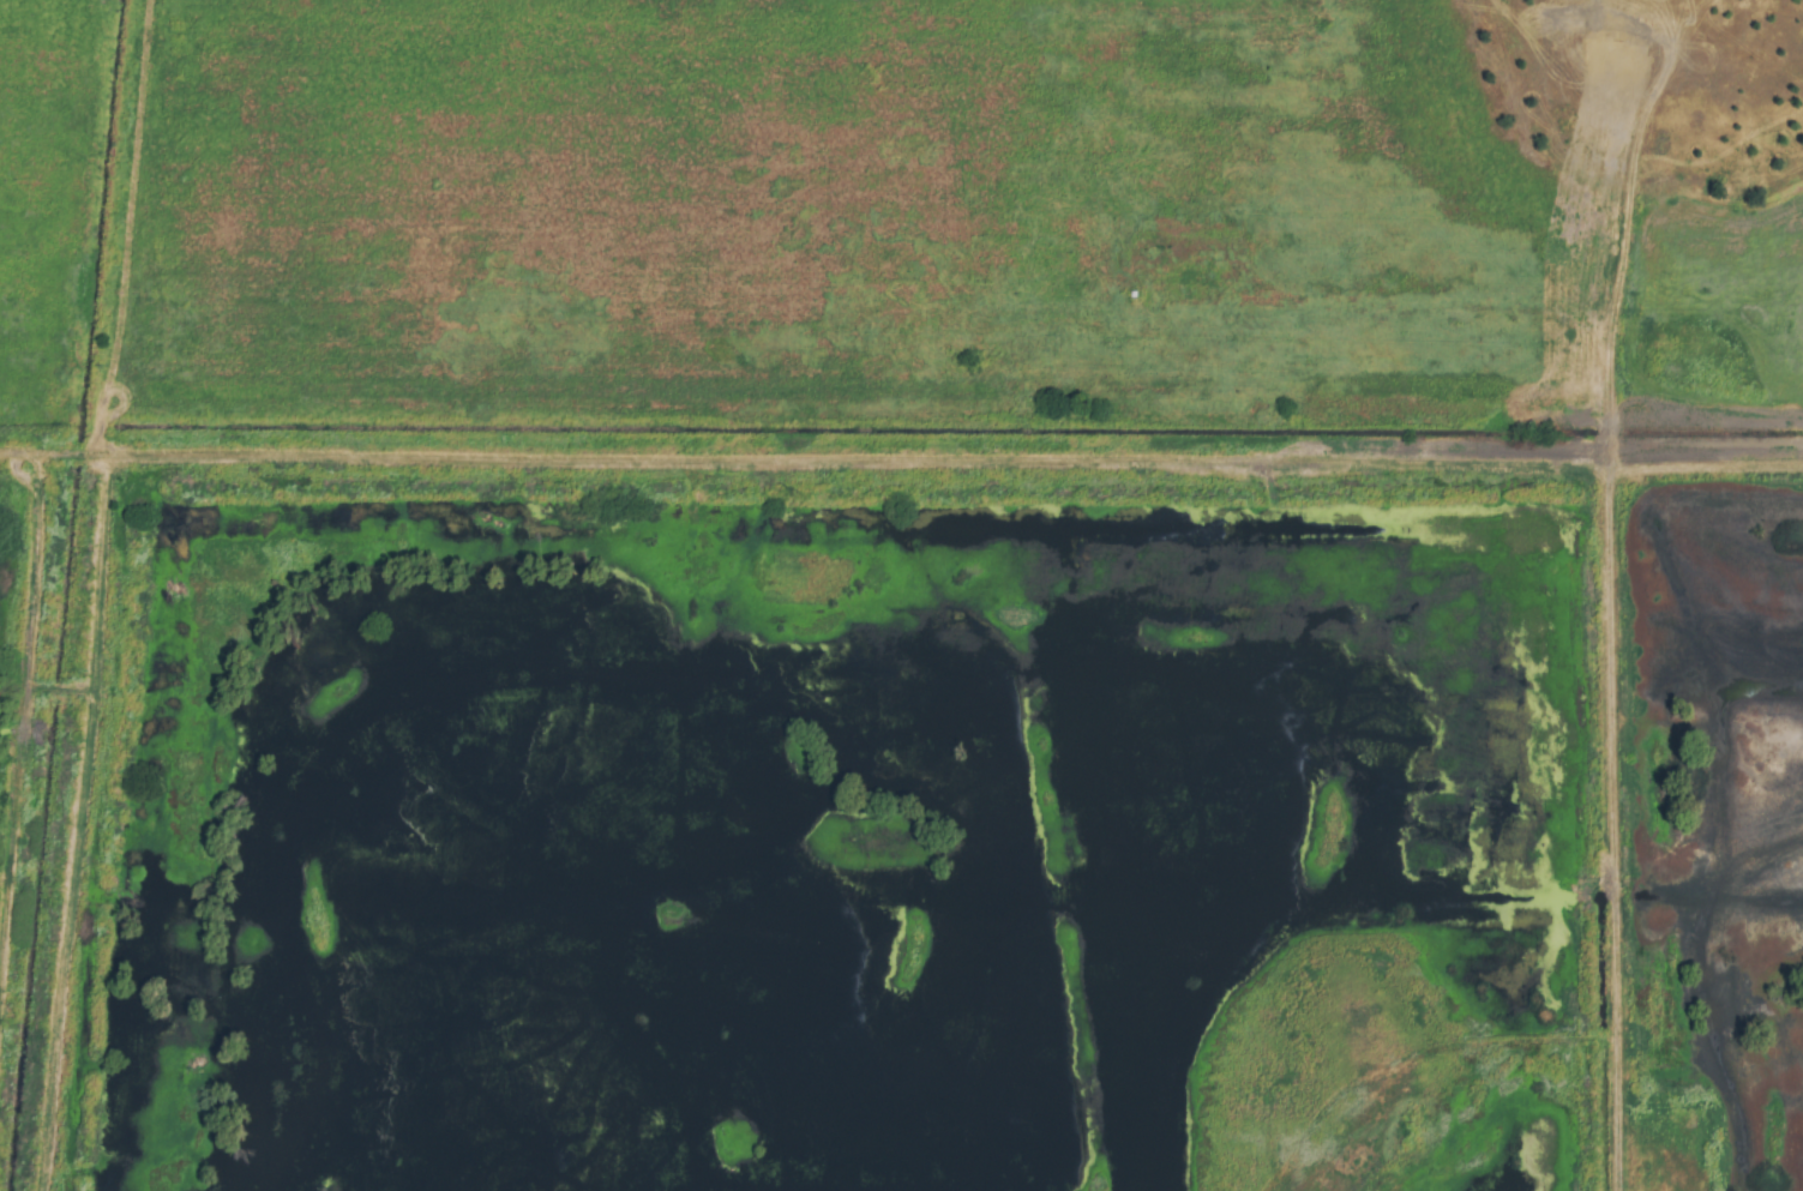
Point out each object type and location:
crop: (901, 211)

